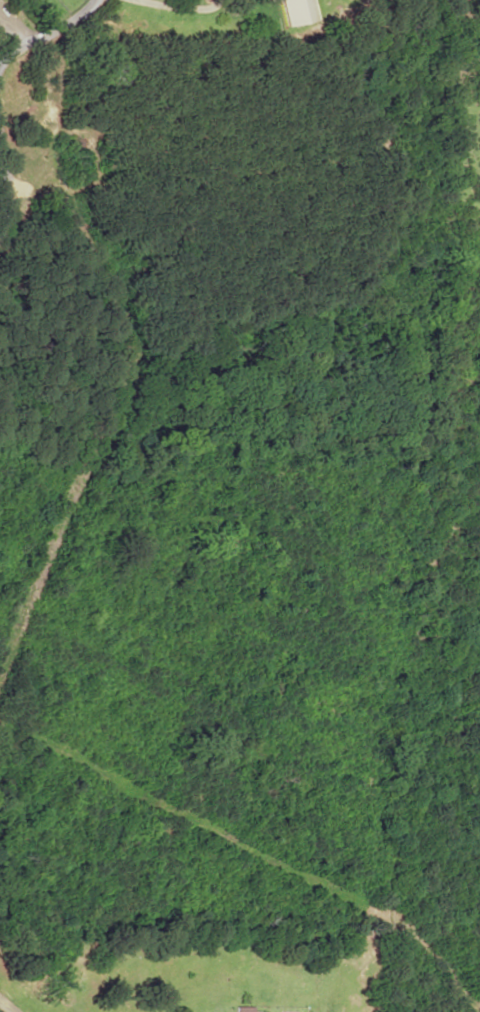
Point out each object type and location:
building: (296, 11)
road: (45, 35)
road: (1, 197)
road: (6, 1006)
building: (242, 1008)

